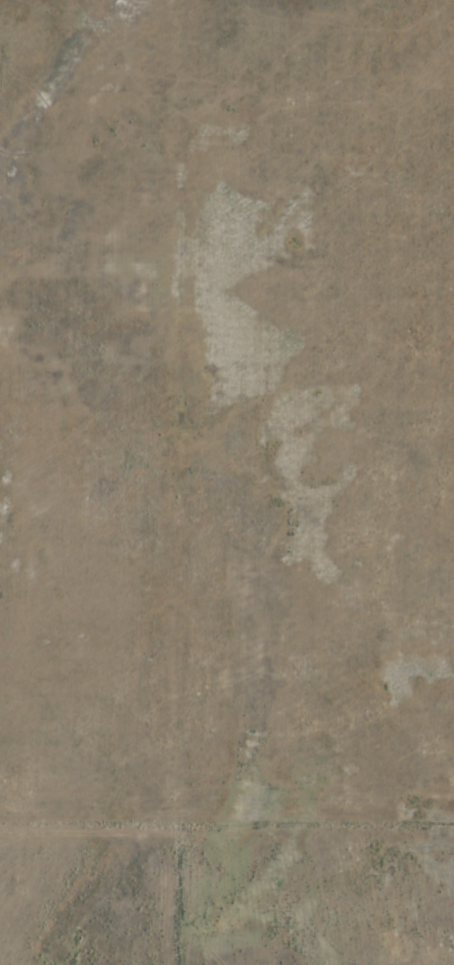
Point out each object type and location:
road: (227, 825)

